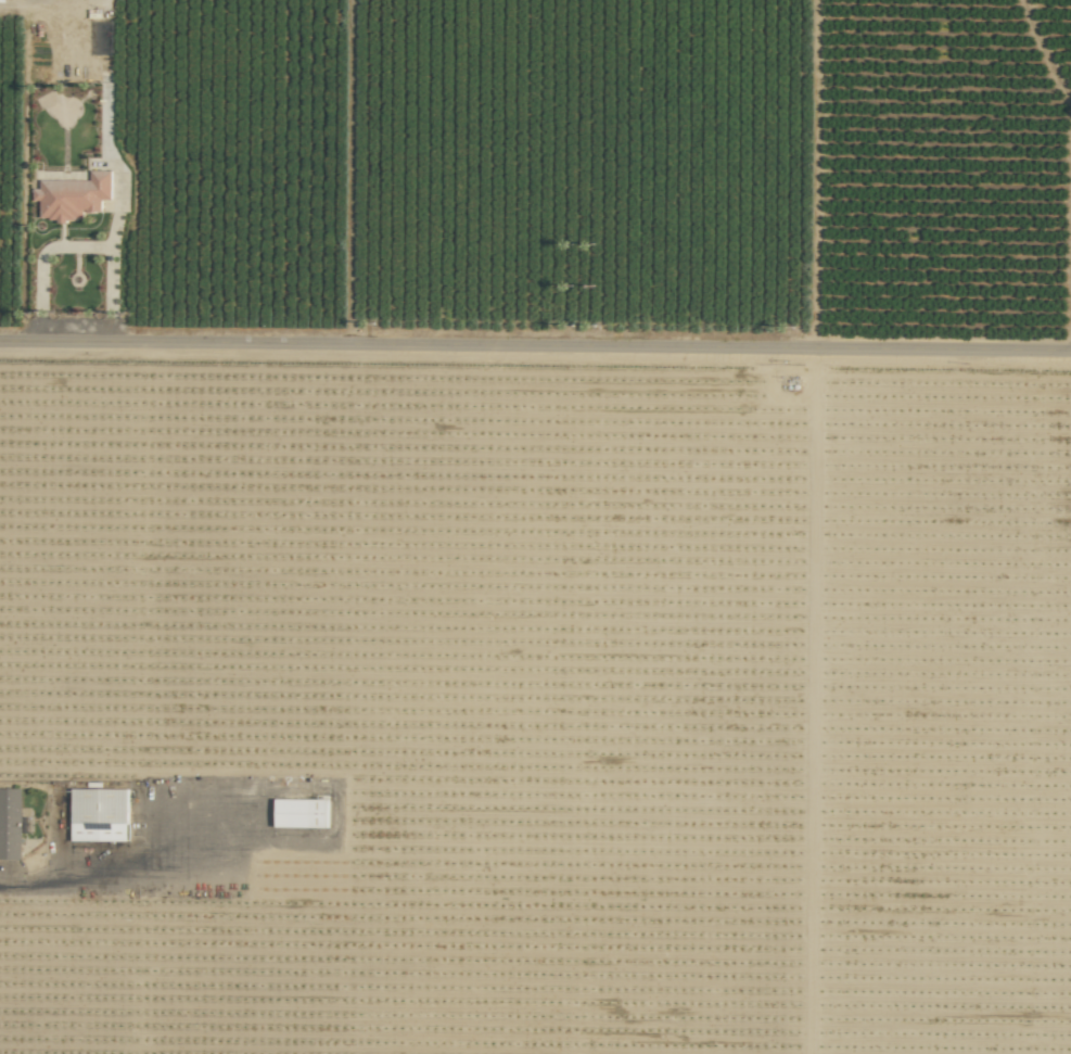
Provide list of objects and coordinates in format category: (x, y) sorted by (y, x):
road: (47, 15)
building: (73, 195)
road: (77, 246)
road: (535, 350)
building: (302, 813)
building: (100, 814)
building: (10, 823)
road: (105, 886)

